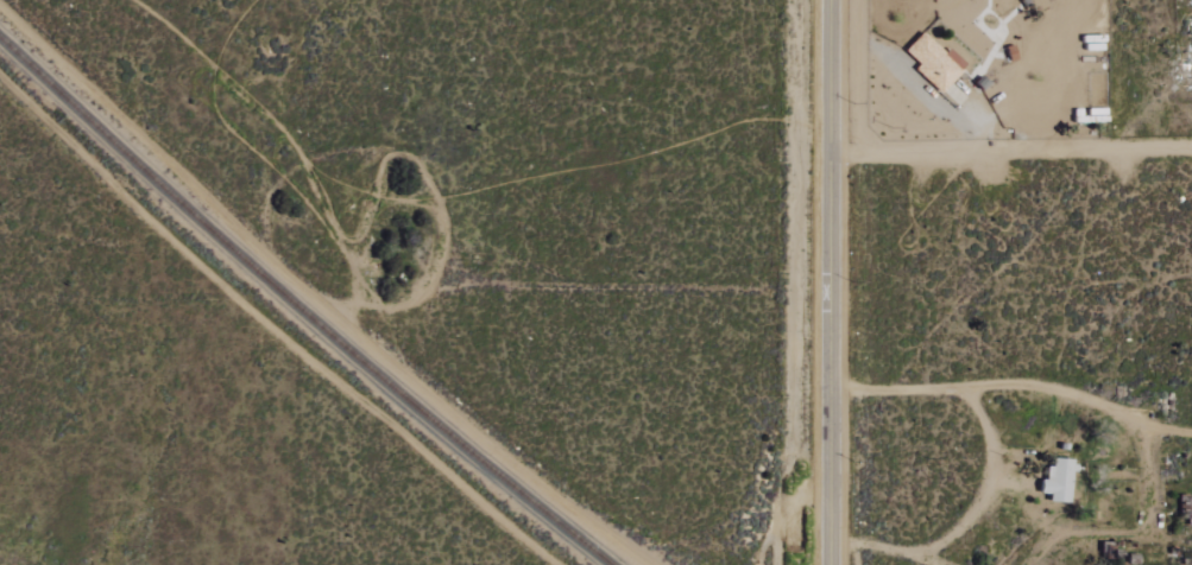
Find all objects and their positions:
building: (933, 62)
road: (1010, 151)
road: (831, 282)
railway: (299, 307)
road: (1015, 383)
building: (1055, 481)
building: (1184, 504)
road: (966, 521)

